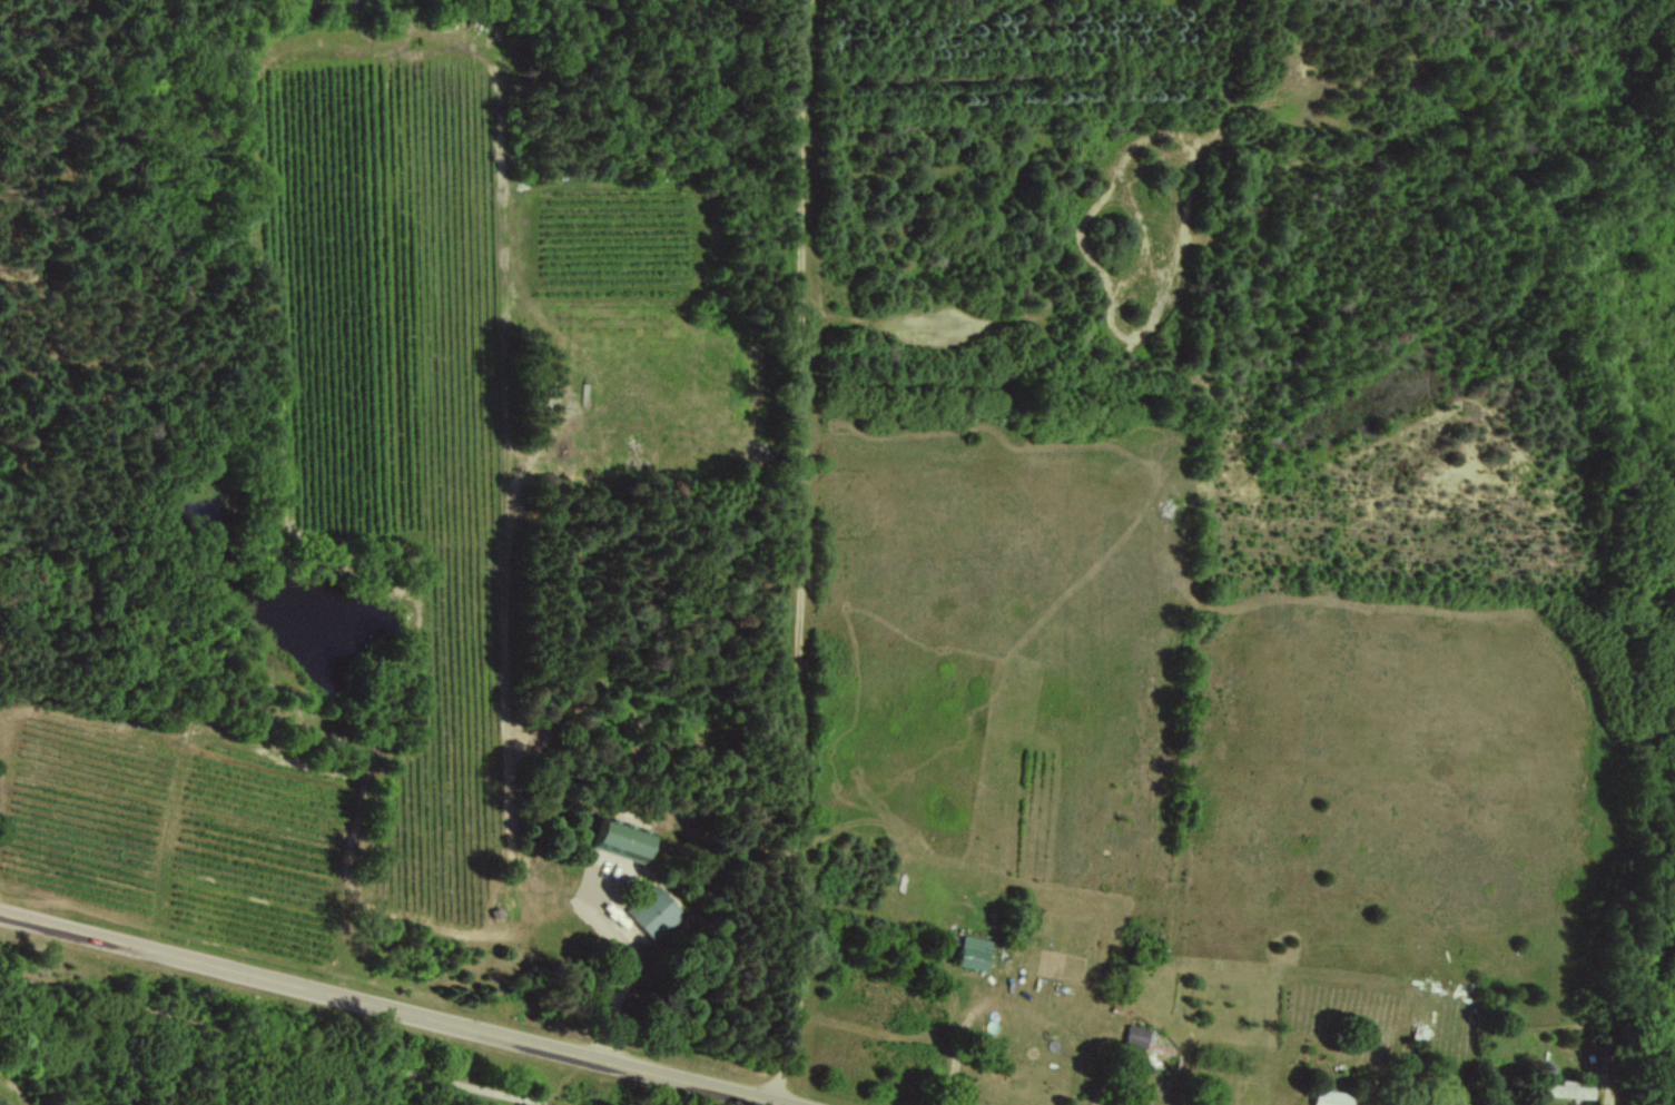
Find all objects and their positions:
building: (625, 838)
building: (653, 911)
building: (974, 951)
road: (402, 1007)
building: (1135, 1035)
road: (274, 1039)
building: (1331, 1097)
building: (1136, 1104)

